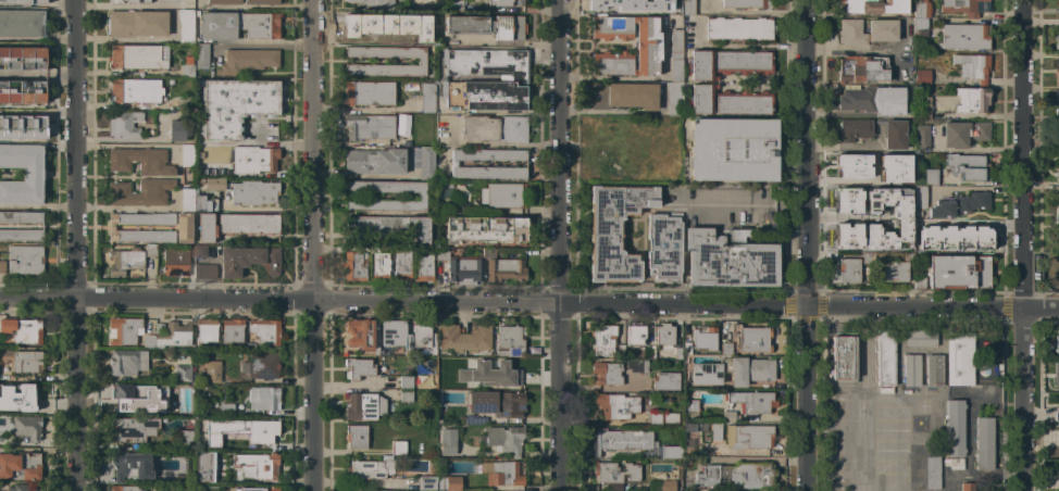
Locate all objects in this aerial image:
road: (410, 0)
building: (128, 1)
building: (224, 1)
building: (22, 2)
building: (261, 2)
building: (425, 2)
building: (375, 3)
building: (506, 3)
building: (611, 3)
building: (747, 3)
building: (456, 4)
building: (409, 7)
building: (664, 7)
building: (688, 7)
building: (872, 7)
building: (964, 7)
building: (1057, 8)
building: (921, 9)
building: (21, 23)
building: (137, 23)
building: (238, 25)
building: (186, 26)
building: (370, 26)
building: (486, 26)
building: (921, 26)
building: (738, 28)
building: (1058, 29)
building: (420, 32)
building: (882, 32)
building: (964, 36)
road: (125, 38)
building: (1056, 41)
road: (736, 45)
building: (647, 46)
road: (854, 49)
building: (138, 55)
building: (201, 55)
building: (675, 55)
building: (22, 56)
building: (246, 61)
building: (421, 61)
building: (727, 63)
building: (973, 64)
building: (187, 67)
building: (863, 68)
building: (1056, 75)
building: (922, 77)
building: (513, 78)
building: (135, 90)
building: (22, 92)
building: (369, 92)
building: (623, 96)
building: (1058, 96)
building: (427, 97)
building: (674, 99)
building: (972, 99)
building: (873, 100)
building: (1058, 101)
building: (730, 102)
building: (1058, 106)
building: (923, 108)
road: (611, 111)
building: (1058, 112)
building: (239, 118)
building: (22, 123)
building: (124, 124)
building: (400, 125)
building: (369, 126)
building: (495, 128)
building: (855, 129)
building: (176, 130)
building: (1058, 130)
building: (894, 134)
building: (963, 134)
building: (922, 137)
road: (124, 139)
road: (503, 144)
road: (839, 146)
building: (733, 149)
road: (970, 149)
road: (803, 152)
building: (198, 153)
road: (1021, 153)
building: (187, 155)
building: (140, 161)
building: (375, 161)
building: (425, 163)
building: (488, 163)
building: (861, 166)
building: (968, 167)
building: (893, 168)
building: (198, 172)
building: (1057, 172)
building: (207, 173)
building: (23, 174)
building: (927, 177)
building: (907, 178)
building: (199, 180)
building: (214, 184)
building: (140, 192)
building: (254, 192)
building: (421, 196)
building: (502, 196)
building: (919, 199)
building: (187, 200)
building: (1057, 200)
building: (846, 201)
building: (203, 203)
road: (750, 204)
road: (36, 205)
building: (961, 205)
building: (900, 218)
road: (843, 219)
building: (247, 223)
building: (40, 226)
building: (391, 226)
building: (112, 227)
building: (184, 228)
building: (205, 228)
building: (484, 229)
building: (614, 231)
building: (961, 234)
building: (846, 236)
building: (920, 238)
building: (1057, 240)
road: (72, 244)
road: (559, 244)
road: (313, 246)
building: (908, 246)
building: (663, 247)
building: (150, 250)
building: (200, 251)
building: (868, 259)
building: (25, 260)
building: (248, 260)
building: (728, 260)
building: (125, 261)
building: (176, 261)
building: (402, 265)
building: (423, 265)
building: (2, 266)
building: (354, 266)
building: (379, 266)
building: (461, 266)
building: (501, 267)
building: (849, 270)
building: (204, 272)
building: (895, 272)
building: (958, 273)
building: (1057, 275)
building: (919, 282)
road: (510, 302)
road: (1039, 307)
building: (23, 330)
building: (124, 330)
building: (207, 330)
building: (232, 330)
building: (264, 330)
building: (359, 332)
building: (634, 333)
building: (174, 335)
building: (395, 335)
building: (664, 335)
building: (423, 337)
building: (464, 338)
building: (703, 338)
building: (752, 338)
building: (919, 338)
building: (602, 339)
building: (510, 340)
building: (149, 341)
building: (1057, 342)
building: (376, 343)
building: (250, 345)
building: (686, 348)
building: (725, 349)
building: (620, 351)
building: (677, 353)
building: (843, 357)
building: (885, 357)
building: (959, 358)
building: (22, 361)
building: (127, 362)
building: (458, 363)
building: (636, 365)
building: (261, 366)
building: (358, 368)
building: (733, 370)
building: (911, 370)
building: (933, 370)
building: (212, 372)
building: (182, 373)
building: (606, 373)
building: (1056, 374)
building: (497, 377)
building: (406, 381)
building: (665, 381)
building: (18, 394)
building: (124, 394)
building: (406, 395)
building: (263, 398)
road: (803, 398)
road: (1020, 399)
building: (752, 402)
building: (496, 403)
building: (616, 405)
building: (360, 406)
building: (179, 407)
building: (690, 407)
building: (222, 411)
building: (1057, 415)
building: (728, 416)
building: (669, 417)
building: (655, 418)
building: (208, 426)
building: (27, 427)
building: (688, 427)
building: (703, 427)
building: (954, 428)
building: (130, 429)
building: (260, 430)
building: (356, 437)
building: (748, 437)
building: (503, 439)
building: (184, 440)
building: (448, 441)
building: (1056, 441)
building: (228, 443)
building: (620, 443)
building: (983, 443)
building: (398, 448)
building: (671, 452)
building: (386, 455)
building: (259, 464)
building: (956, 464)
building: (132, 465)
building: (20, 466)
building: (1058, 466)
building: (203, 467)
building: (370, 468)
building: (503, 473)
building: (615, 473)
building: (932, 473)
building: (735, 476)
building: (228, 477)
building: (182, 479)
road: (362, 481)
building: (427, 482)
building: (448, 483)
building: (666, 486)
building: (969, 486)
building: (22, 488)
building: (126, 488)
building: (257, 489)

